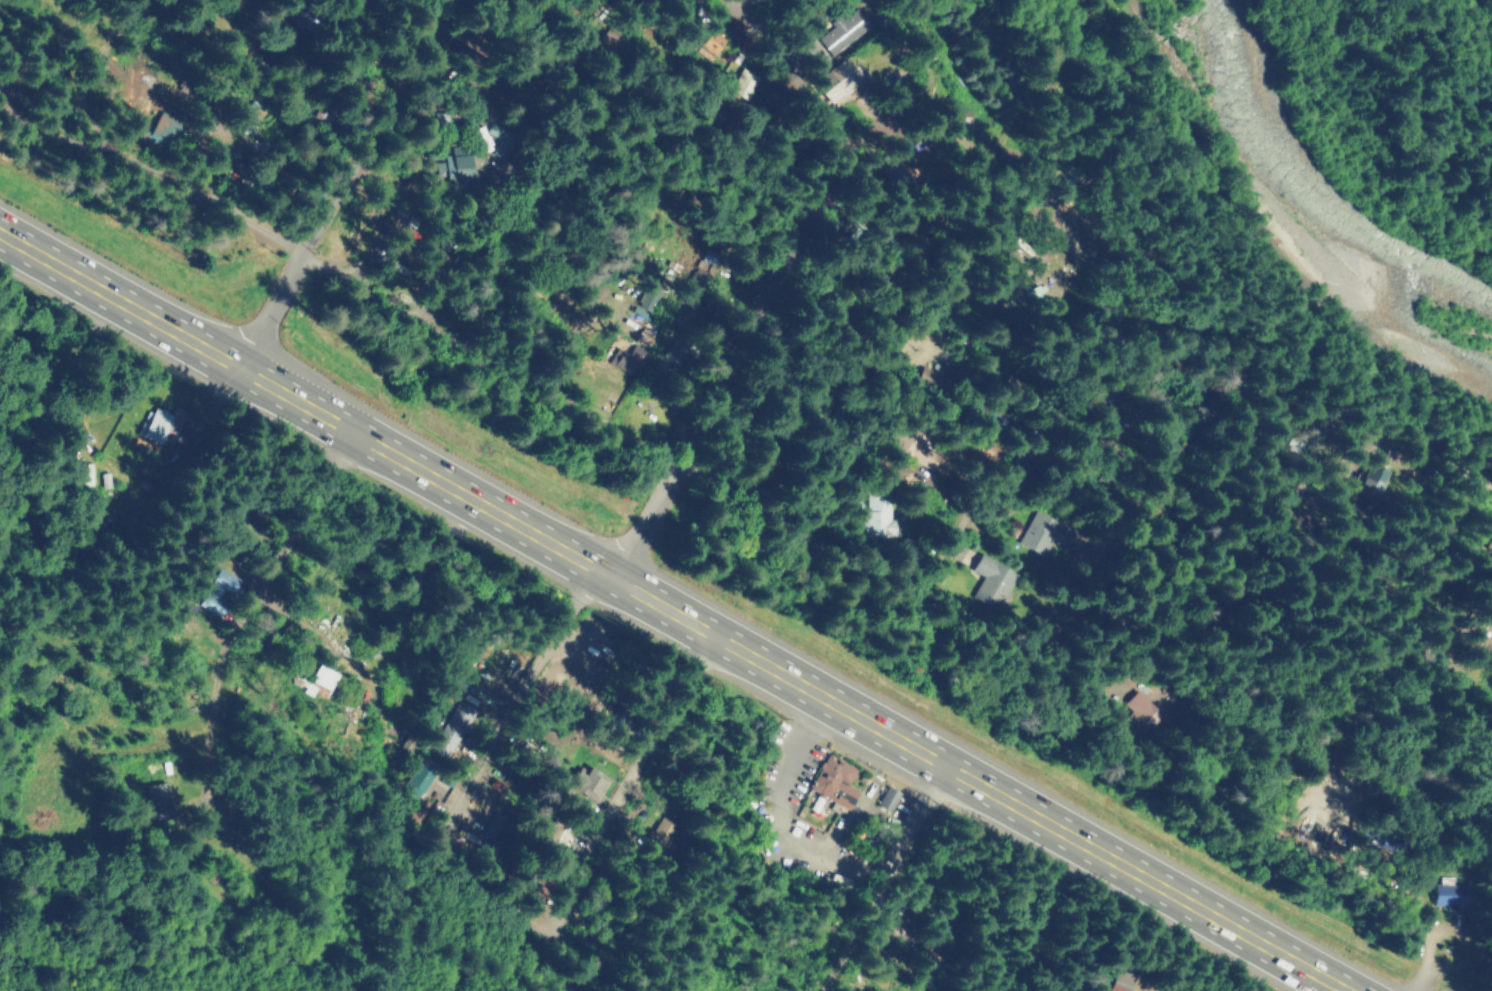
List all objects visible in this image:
building: (307, 21)
building: (842, 31)
road: (736, 42)
road: (789, 75)
building: (845, 76)
road: (201, 81)
road: (94, 83)
building: (744, 84)
building: (325, 114)
building: (166, 127)
building: (500, 139)
building: (456, 167)
road: (503, 182)
river: (1309, 210)
building: (401, 225)
road: (615, 252)
road: (299, 253)
building: (642, 314)
building: (644, 338)
building: (676, 353)
building: (627, 359)
building: (926, 376)
road: (1355, 418)
building: (162, 424)
building: (917, 445)
building: (1024, 461)
road: (835, 472)
building: (1371, 480)
road: (772, 513)
building: (876, 517)
road: (292, 533)
building: (1043, 533)
road: (941, 536)
road: (600, 573)
road: (432, 580)
building: (992, 581)
building: (217, 591)
road: (674, 612)
road: (1198, 629)
building: (322, 681)
road: (211, 697)
building: (1143, 710)
road: (662, 712)
building: (453, 728)
road: (787, 759)
building: (421, 777)
building: (836, 781)
building: (592, 784)
building: (889, 798)
building: (157, 801)
road: (601, 820)
building: (496, 827)
building: (662, 829)
road: (886, 878)
building: (1449, 895)
road: (1443, 941)
building: (1121, 980)

